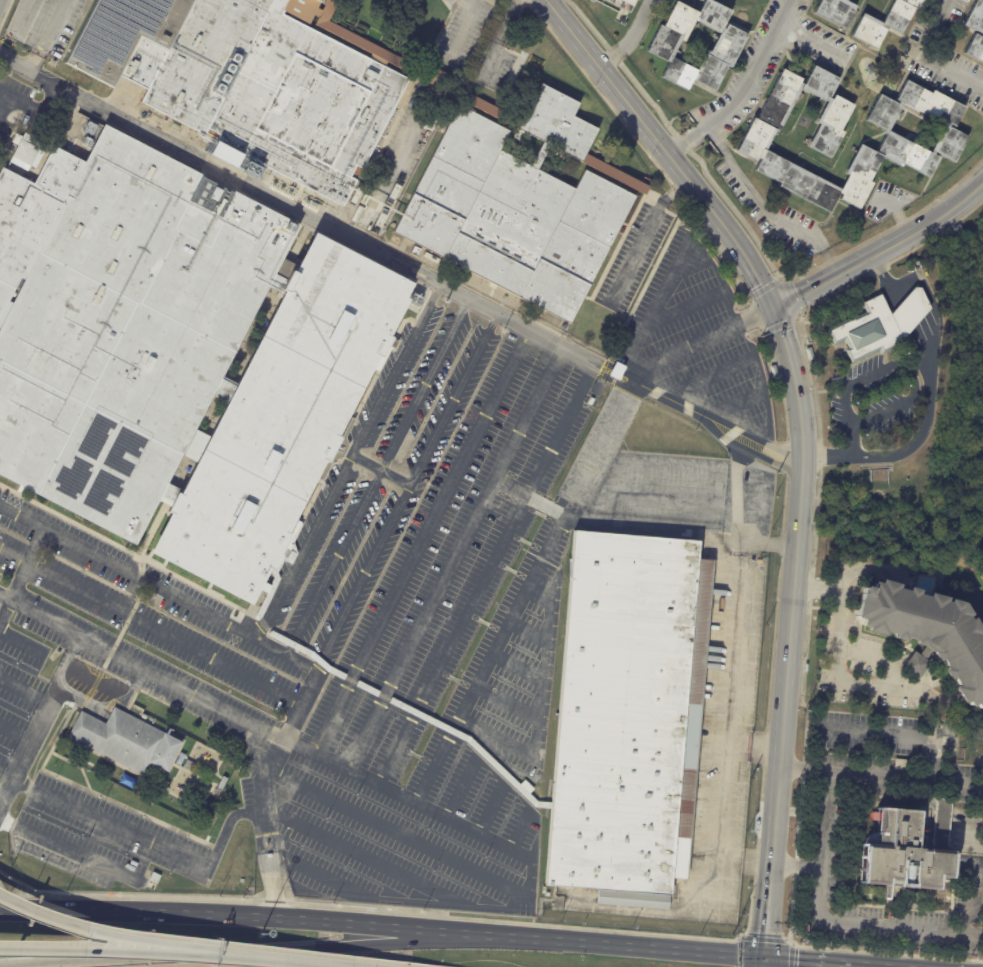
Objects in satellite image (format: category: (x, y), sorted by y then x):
building: (628, 2)
building: (836, 11)
parking lot: (45, 23)
building: (884, 23)
road: (462, 29)
building: (975, 32)
parking lot: (460, 36)
road: (500, 36)
road: (809, 37)
road: (630, 38)
road: (36, 39)
building: (726, 46)
road: (925, 58)
road: (24, 68)
road: (752, 69)
building: (248, 75)
road: (28, 105)
parking lot: (26, 110)
building: (756, 141)
road: (687, 143)
road: (665, 149)
building: (26, 153)
road: (244, 183)
road: (959, 199)
building: (515, 203)
road: (764, 209)
road: (896, 211)
road: (642, 239)
building: (393, 240)
building: (412, 250)
road: (853, 263)
road: (689, 267)
road: (885, 280)
building: (744, 287)
road: (685, 308)
traffic signals: (771, 308)
road: (652, 310)
road: (905, 317)
road: (507, 319)
building: (120, 321)
building: (878, 327)
road: (699, 341)
building: (808, 354)
road: (606, 364)
park: (961, 369)
building: (777, 372)
road: (602, 373)
road: (710, 377)
road: (734, 405)
road: (929, 414)
building: (278, 420)
road: (716, 423)
road: (758, 433)
road: (602, 441)
road: (832, 456)
road: (347, 463)
road: (380, 469)
road: (376, 477)
road: (613, 478)
road: (404, 493)
road: (595, 508)
road: (737, 517)
road: (626, 529)
road: (420, 542)
road: (453, 559)
road: (481, 582)
road: (158, 590)
road: (5, 598)
road: (5, 610)
road: (150, 626)
road: (790, 630)
road: (527, 631)
building: (927, 632)
parking lot: (436, 640)
road: (22, 643)
road: (488, 660)
road: (516, 667)
road: (845, 681)
road: (88, 701)
road: (113, 702)
road: (506, 702)
road: (538, 705)
building: (626, 717)
road: (39, 728)
road: (16, 733)
road: (896, 734)
building: (123, 741)
road: (752, 746)
building: (225, 764)
building: (901, 765)
building: (191, 766)
road: (804, 768)
road: (906, 775)
road: (6, 776)
road: (466, 777)
building: (223, 782)
road: (395, 796)
building: (172, 800)
road: (717, 800)
building: (204, 807)
road: (344, 808)
road: (489, 811)
road: (261, 814)
parking lot: (249, 820)
road: (110, 824)
road: (227, 827)
road: (518, 832)
road: (273, 841)
road: (259, 845)
road: (345, 848)
road: (70, 850)
building: (900, 854)
road: (743, 860)
road: (797, 865)
building: (157, 878)
road: (273, 892)
road: (3, 901)
road: (861, 919)
road: (383, 926)
road: (91, 932)
road: (975, 932)
road: (94, 947)
road: (232, 952)
traffic signals: (766, 957)
road: (271, 958)
road: (806, 960)
road: (765, 962)
road: (842, 965)
road: (871, 965)

